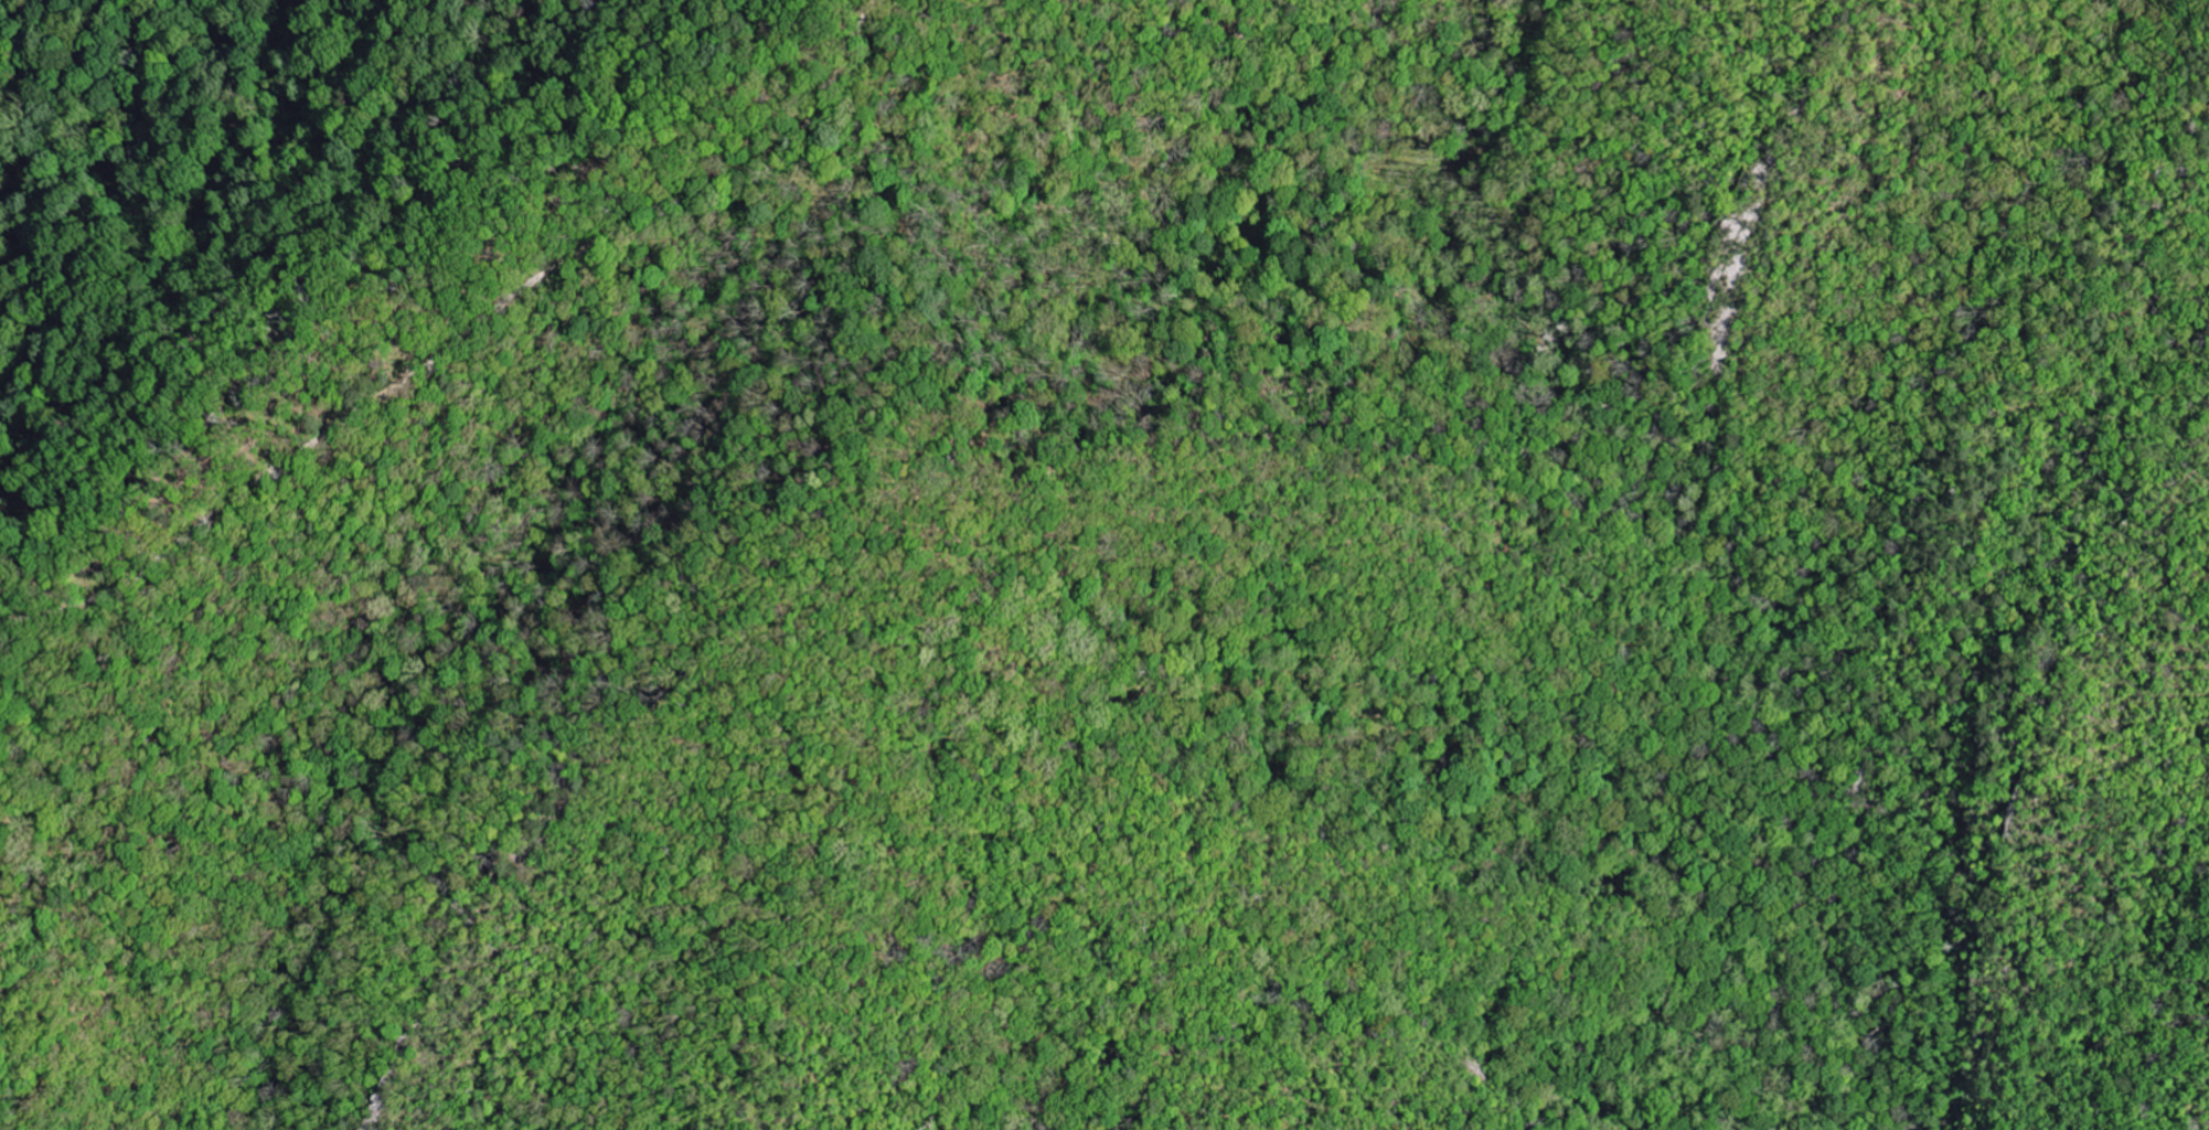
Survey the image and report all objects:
road: (460, 335)
road: (322, 644)

